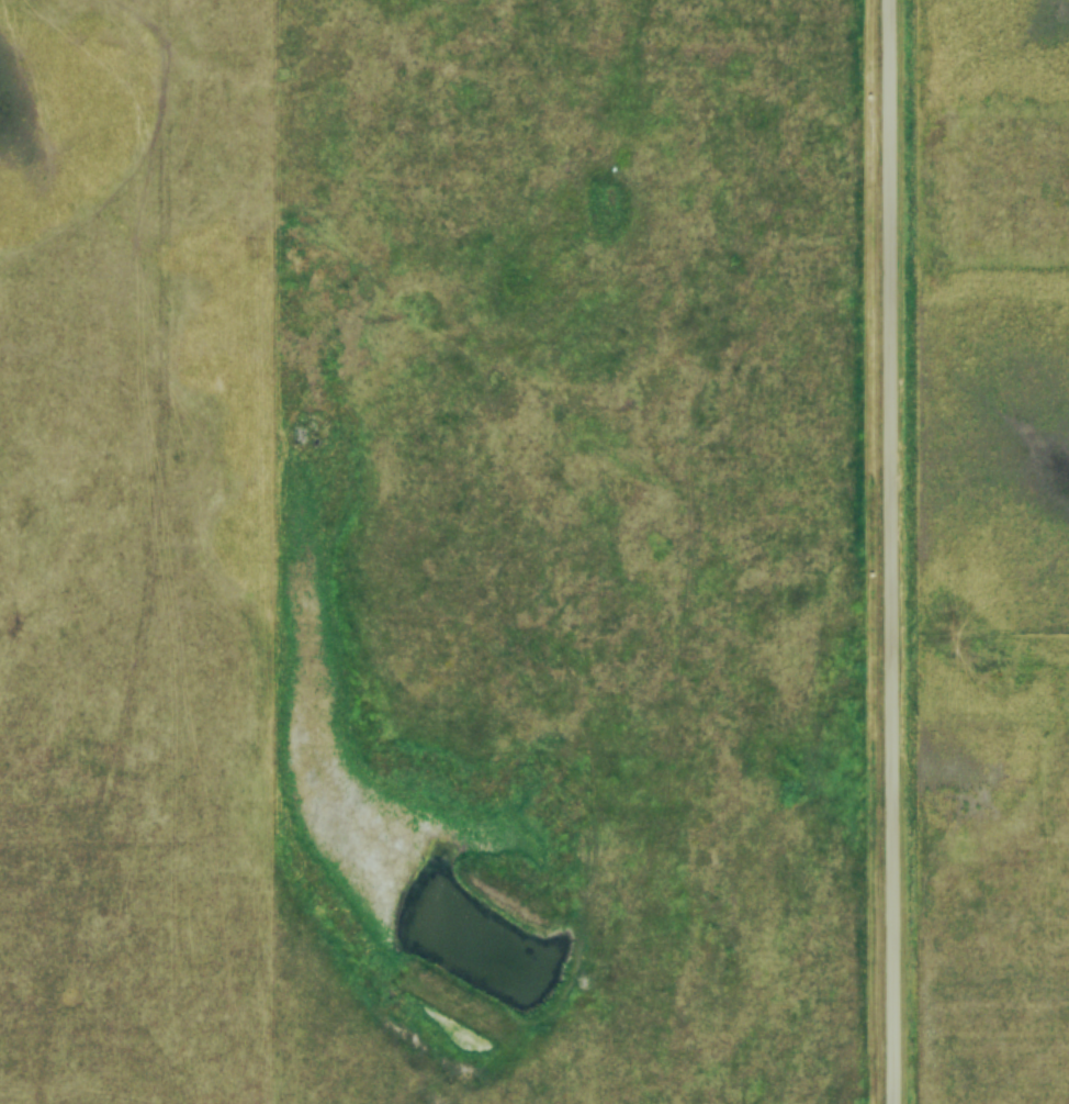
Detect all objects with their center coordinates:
road: (892, 551)

